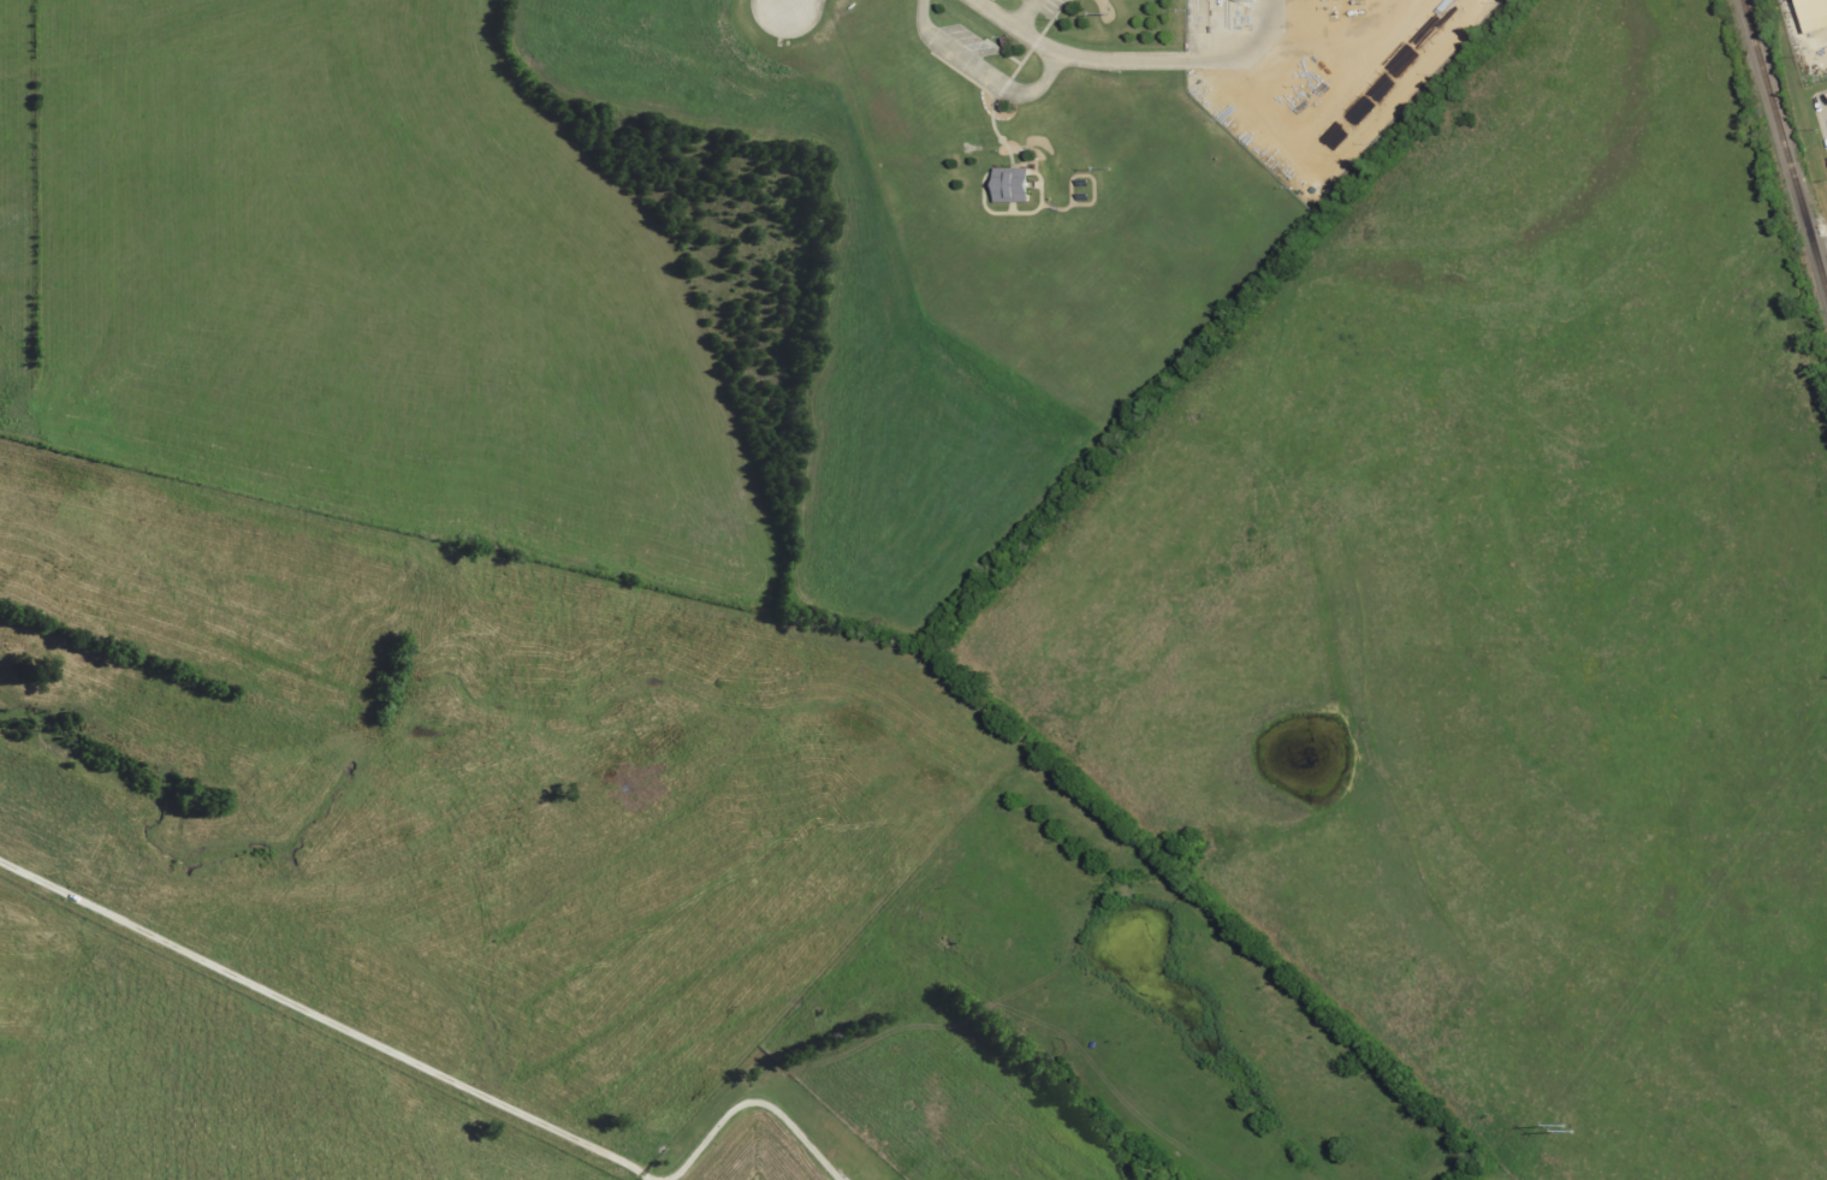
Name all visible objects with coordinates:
building: (1815, 14)
road: (1021, 22)
road: (1144, 52)
road: (986, 63)
railway: (1784, 144)
building: (1016, 185)
road: (330, 1016)
road: (753, 1103)
power tower: (1565, 1127)

